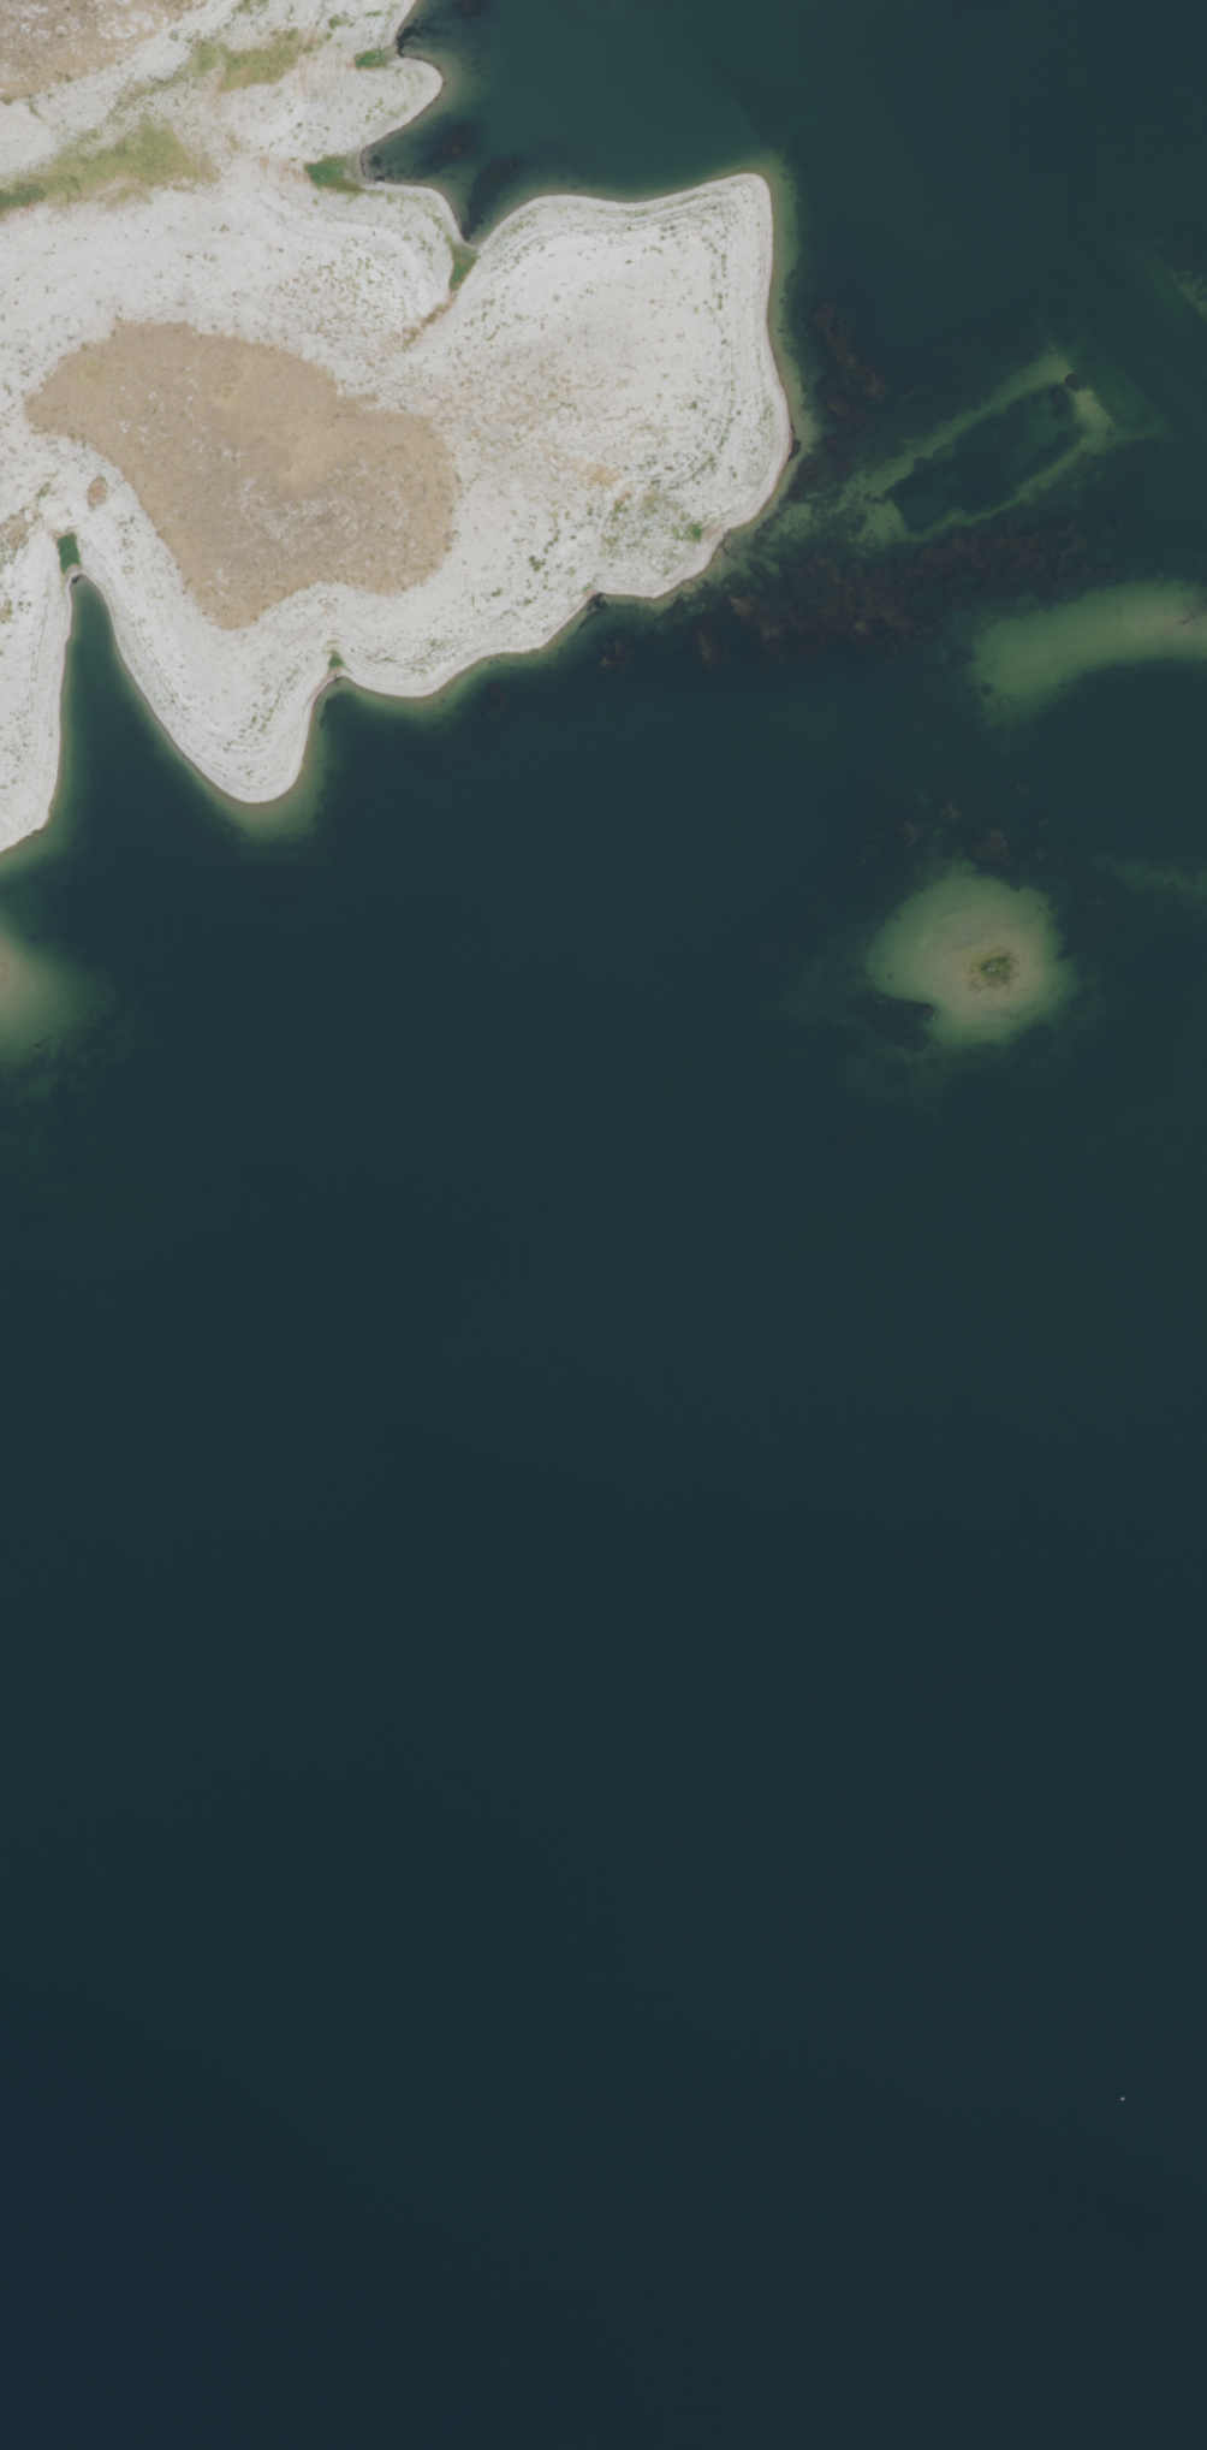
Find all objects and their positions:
river: (606, 2431)

